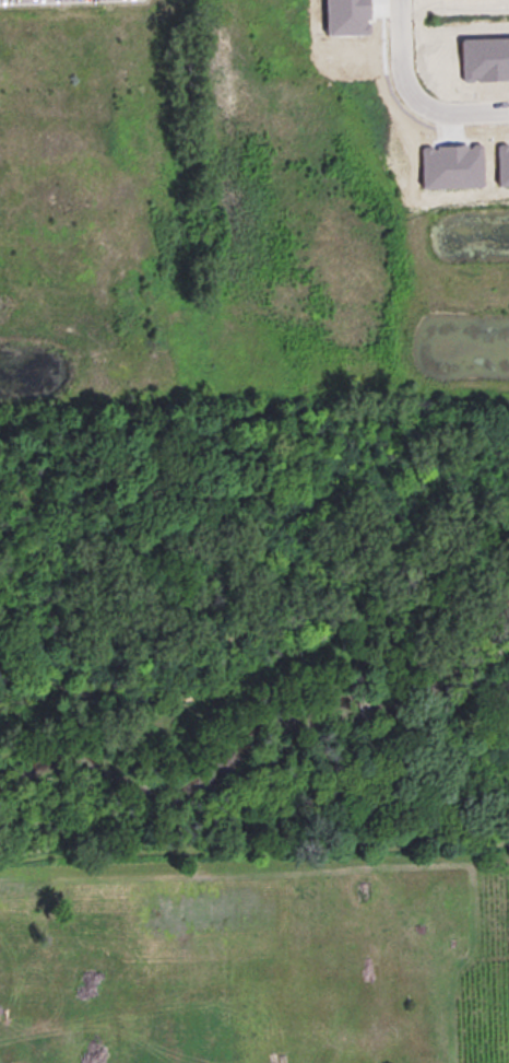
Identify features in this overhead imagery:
road: (412, 98)
river: (260, 733)

